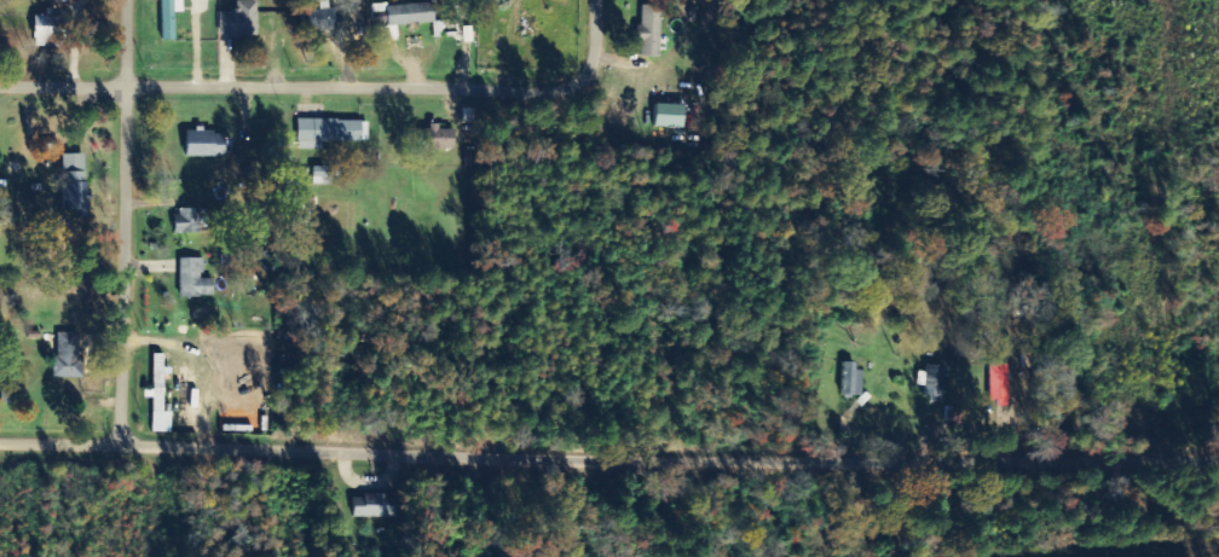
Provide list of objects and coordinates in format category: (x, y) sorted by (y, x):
building: (456, 0)
building: (411, 14)
building: (171, 18)
building: (322, 19)
building: (239, 21)
building: (385, 28)
building: (52, 29)
building: (651, 31)
road: (595, 42)
road: (291, 88)
building: (472, 116)
building: (672, 116)
building: (330, 132)
building: (440, 138)
building: (206, 144)
building: (76, 184)
road: (132, 221)
building: (190, 221)
building: (195, 279)
building: (69, 356)
building: (853, 379)
building: (932, 383)
building: (1000, 385)
building: (160, 398)
road: (608, 459)
building: (376, 506)

